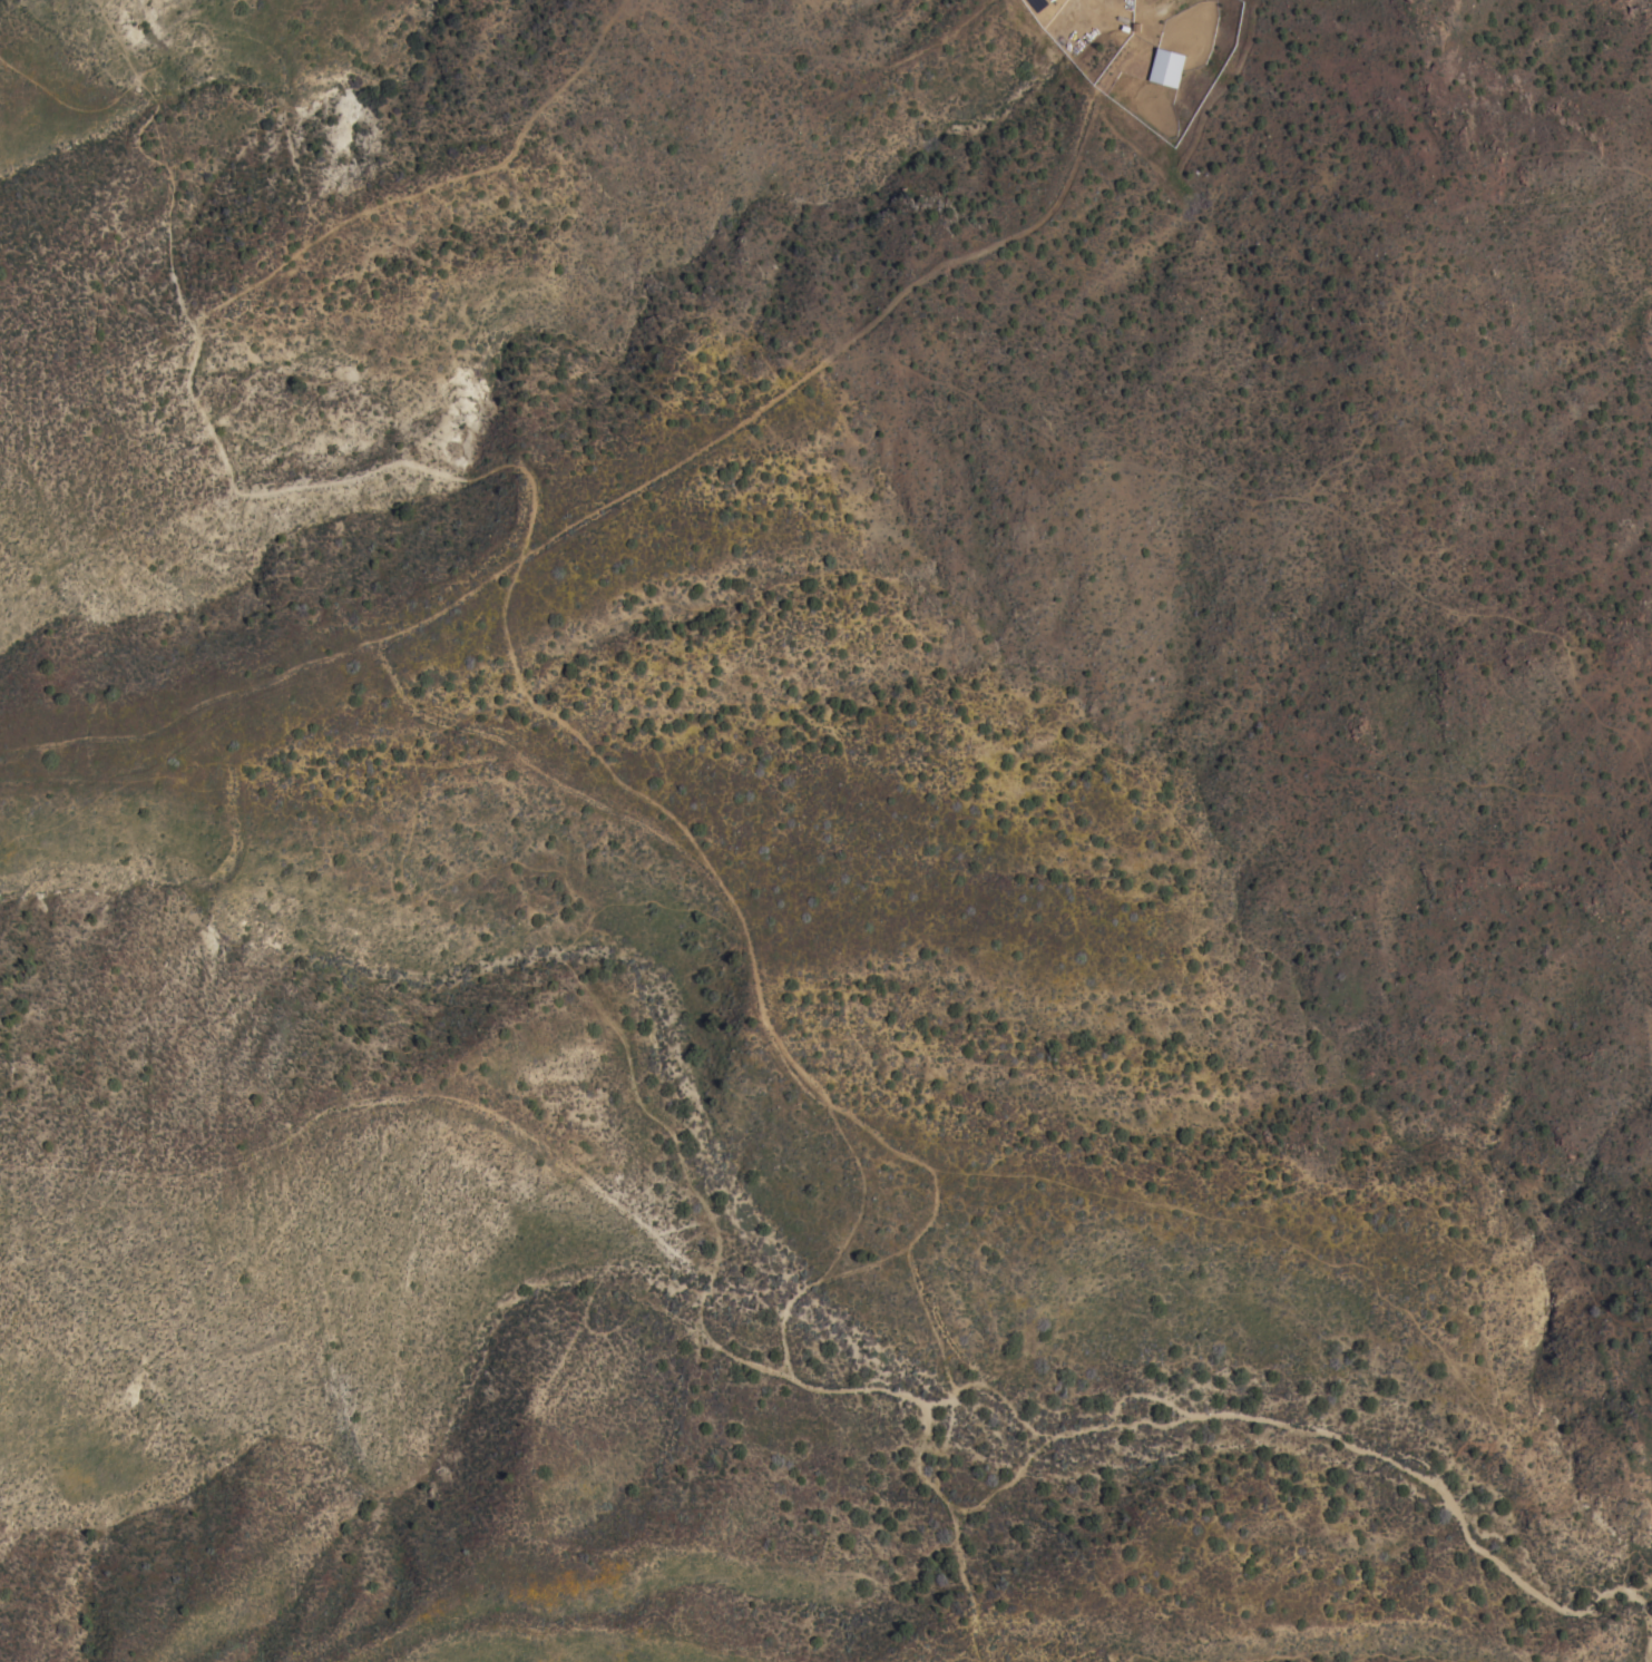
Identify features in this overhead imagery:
building: (1164, 66)

